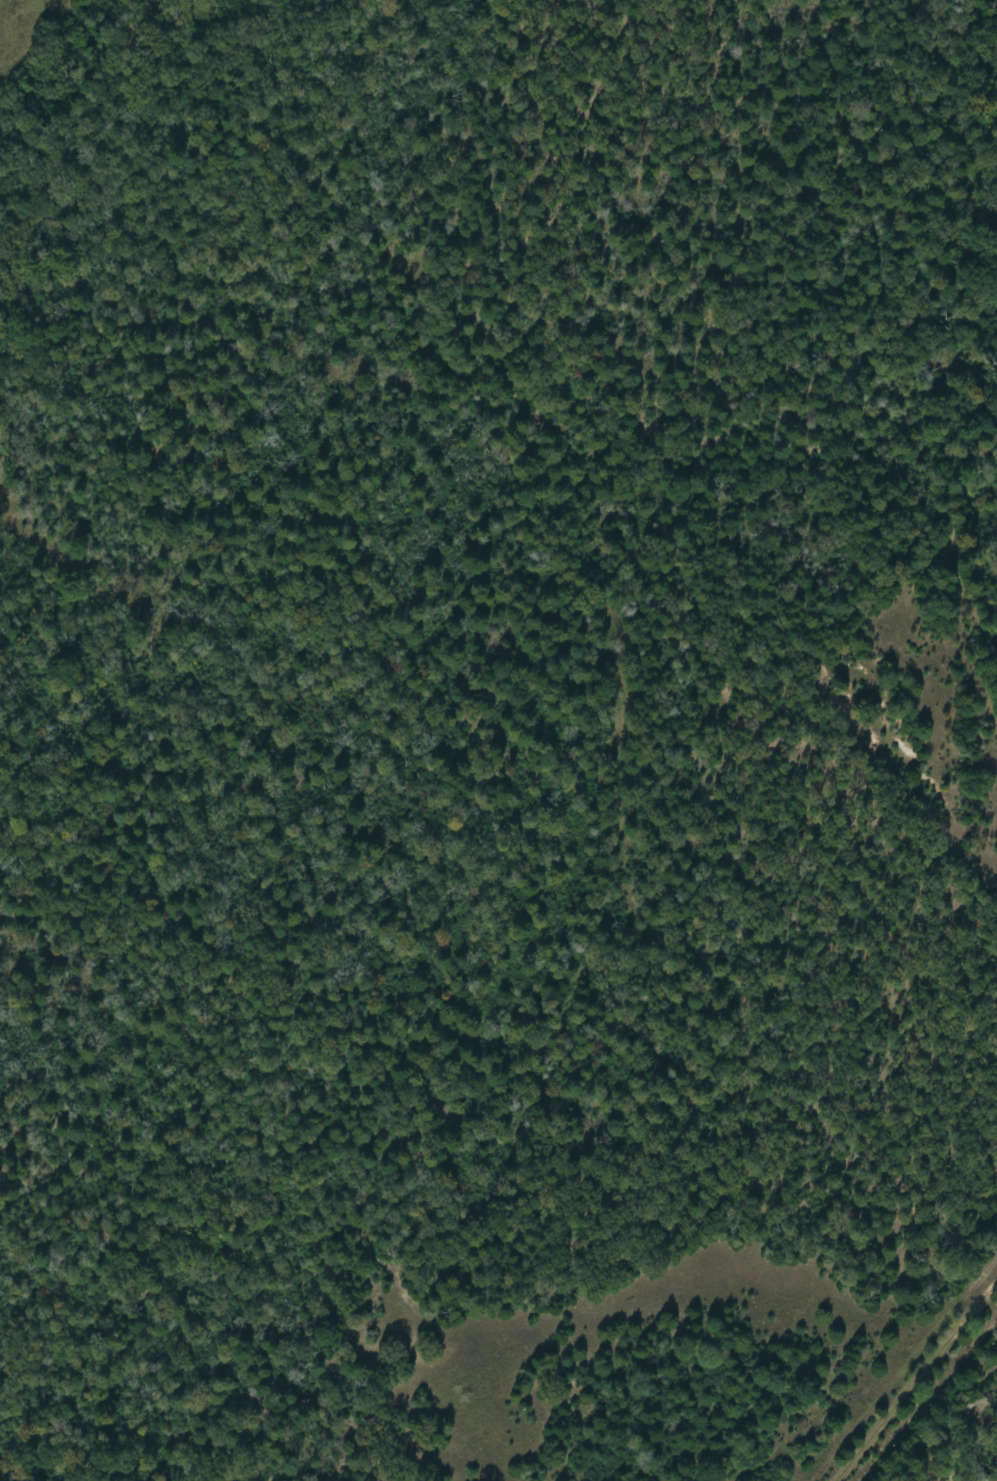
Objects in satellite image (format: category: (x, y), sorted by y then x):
road: (996, 1276)

